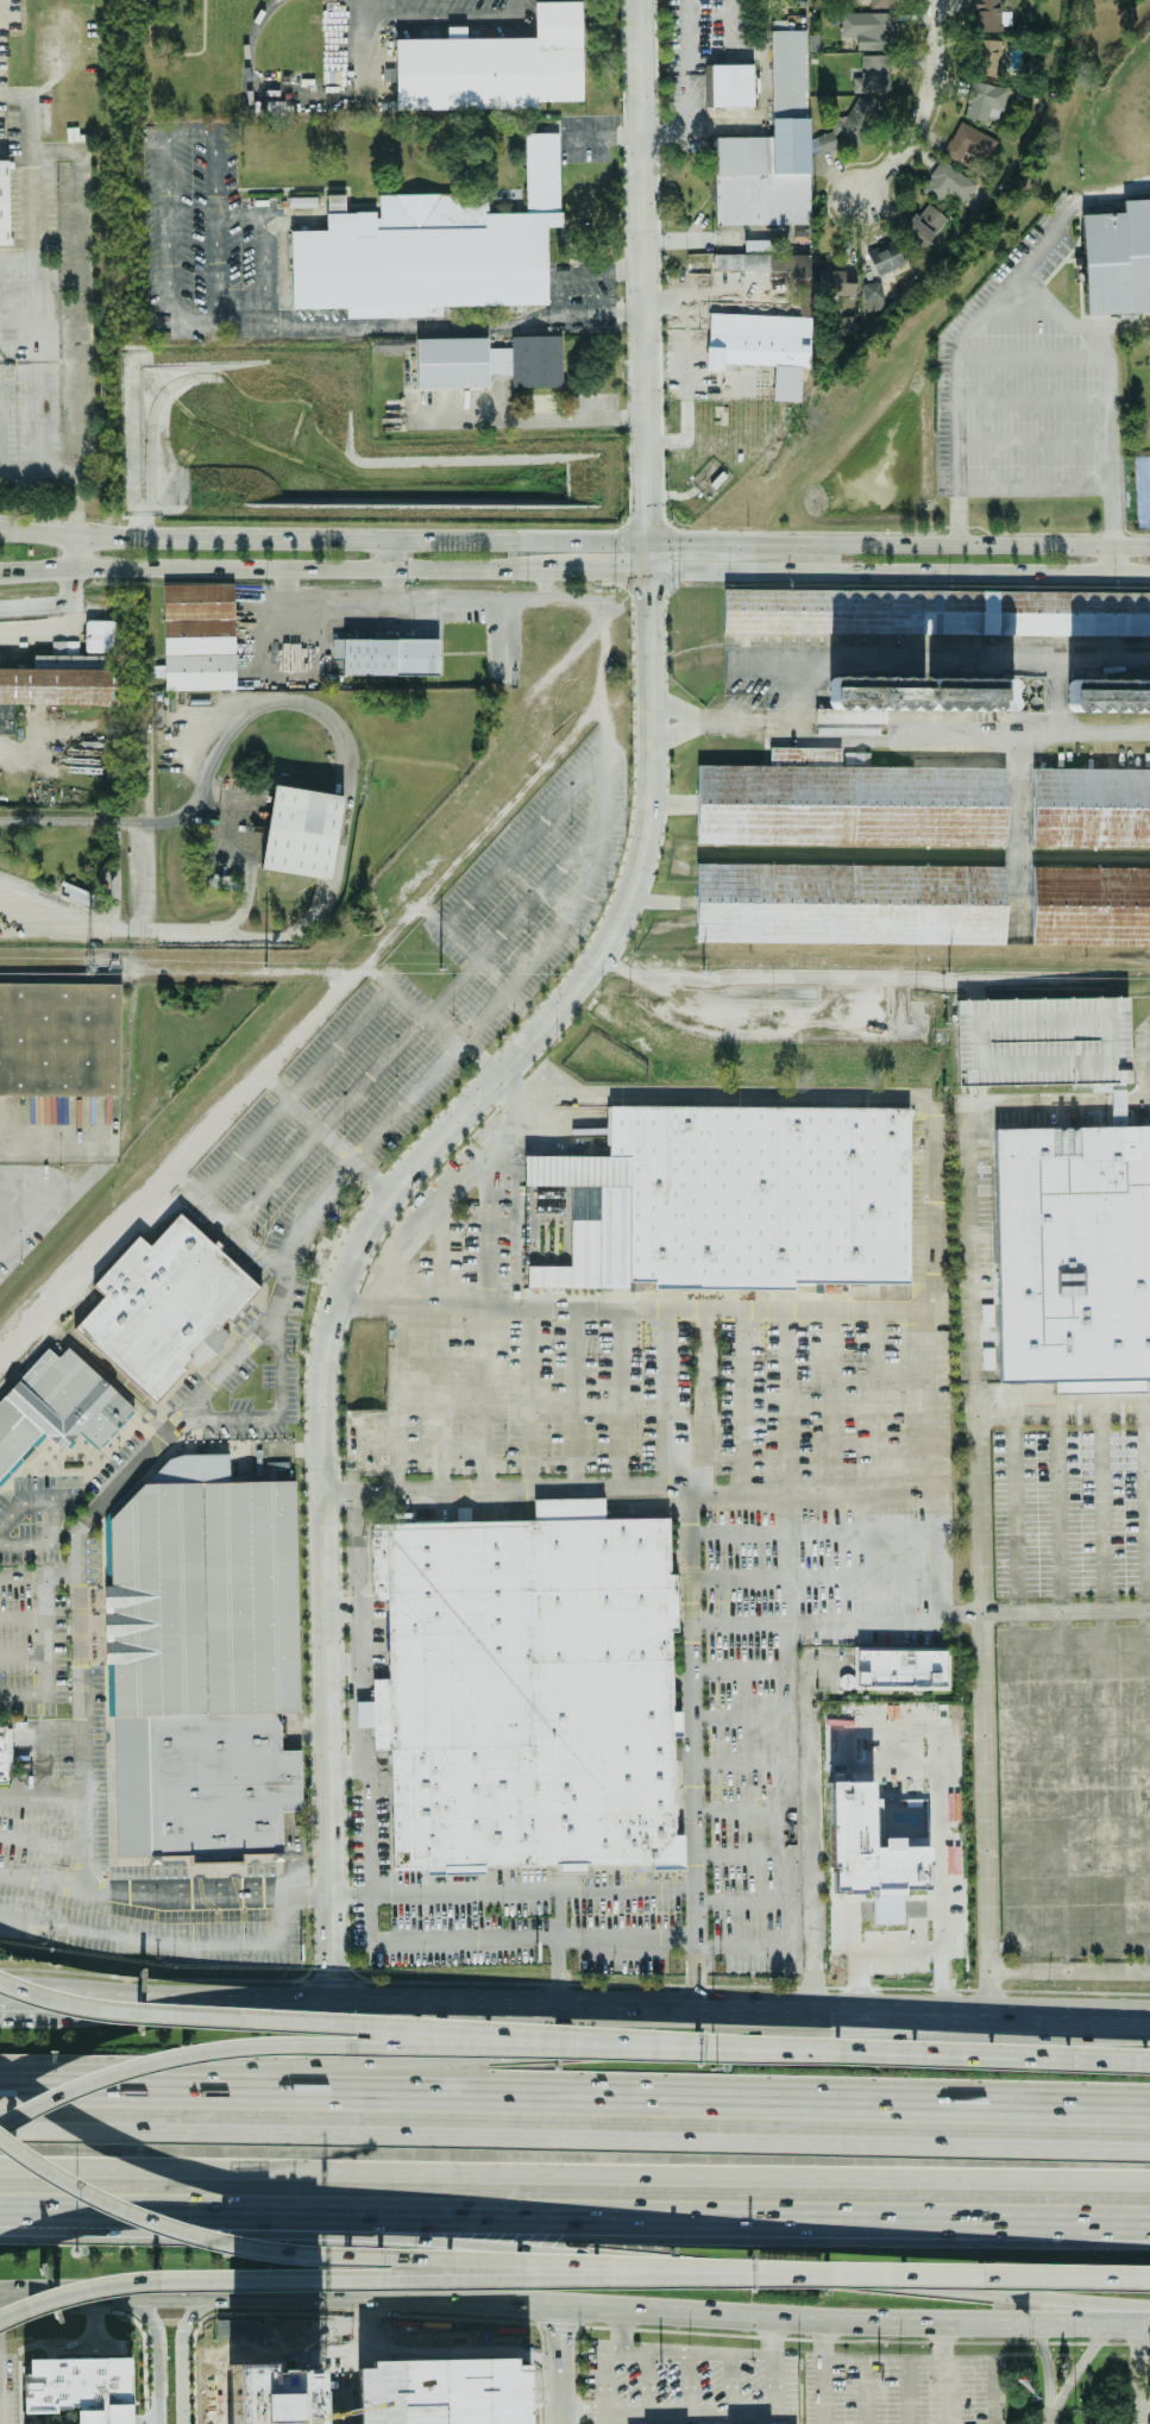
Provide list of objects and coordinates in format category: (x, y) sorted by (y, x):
building: (884, 2)
building: (987, 15)
road: (436, 26)
building: (868, 30)
building: (987, 57)
building: (488, 69)
building: (873, 74)
building: (731, 84)
road: (282, 90)
building: (985, 101)
road: (925, 111)
building: (853, 121)
road: (683, 126)
building: (969, 144)
road: (1057, 149)
building: (765, 151)
building: (947, 183)
building: (4, 202)
road: (642, 207)
road: (233, 216)
building: (925, 224)
building: (765, 245)
building: (428, 251)
building: (885, 257)
building: (763, 263)
building: (1118, 263)
road: (17, 269)
road: (580, 274)
road: (80, 288)
road: (34, 289)
building: (873, 296)
road: (239, 322)
road: (1079, 322)
road: (684, 332)
building: (750, 338)
building: (383, 344)
road: (957, 347)
building: (479, 364)
road: (1010, 413)
road: (1044, 416)
road: (529, 417)
road: (684, 421)
road: (1106, 451)
road: (20, 472)
road: (645, 478)
park: (1143, 496)
road: (76, 504)
traffic signals: (647, 520)
road: (323, 541)
traffic signals: (678, 542)
road: (692, 542)
road: (943, 545)
road: (73, 553)
road: (388, 554)
road: (647, 557)
road: (278, 567)
road: (602, 571)
traffic signals: (618, 572)
road: (898, 572)
traffic signals: (648, 592)
road: (385, 602)
road: (52, 603)
building: (934, 611)
road: (647, 614)
building: (100, 636)
building: (197, 638)
building: (387, 657)
road: (941, 657)
building: (62, 679)
road: (1056, 692)
building: (1108, 695)
building: (919, 696)
road: (519, 701)
road: (605, 726)
road: (898, 726)
road: (339, 785)
building: (848, 803)
building: (1091, 808)
building: (303, 834)
road: (523, 842)
road: (247, 848)
building: (849, 903)
building: (1091, 905)
road: (388, 935)
road: (480, 965)
power tower: (89, 967)
power tower: (265, 967)
power tower: (439, 968)
power tower: (703, 969)
power tower: (949, 972)
road: (514, 976)
road: (406, 1005)
parking lot: (413, 1022)
road: (414, 1026)
building: (59, 1040)
building: (1043, 1042)
road: (1149, 1057)
road: (290, 1092)
road: (709, 1094)
road: (304, 1119)
road: (50, 1132)
road: (439, 1199)
building: (739, 1204)
road: (38, 1208)
road: (225, 1225)
road: (484, 1227)
building: (1072, 1256)
road: (84, 1264)
road: (337, 1279)
building: (163, 1305)
road: (761, 1310)
road: (84, 1313)
road: (439, 1344)
road: (206, 1348)
road: (238, 1354)
road: (82, 1356)
road: (112, 1369)
parking lot: (620, 1373)
road: (391, 1395)
road: (484, 1398)
road: (526, 1398)
road: (573, 1398)
road: (616, 1398)
road: (662, 1398)
building: (45, 1401)
road: (784, 1403)
road: (830, 1403)
road: (873, 1403)
road: (704, 1405)
road: (739, 1405)
road: (163, 1409)
building: (98, 1414)
road: (146, 1415)
road: (276, 1417)
road: (1067, 1417)
road: (177, 1423)
building: (7, 1455)
road: (348, 1456)
road: (80, 1472)
road: (716, 1500)
road: (1146, 1512)
road: (1056, 1513)
road: (1100, 1513)
road: (1018, 1514)
road: (50, 1516)
road: (805, 1531)
road: (800, 1562)
road: (807, 1582)
road: (931, 1583)
road: (308, 1588)
road: (1069, 1609)
road: (19, 1616)
road: (813, 1625)
road: (363, 1632)
road: (39, 1633)
road: (19, 1653)
building: (203, 1666)
building: (897, 1670)
road: (735, 1672)
parking lot: (777, 1685)
road: (19, 1691)
building: (540, 1697)
road: (988, 1715)
road: (735, 1717)
road: (306, 1729)
road: (310, 1731)
building: (2, 1756)
road: (686, 1757)
road: (737, 1762)
road: (30, 1765)
road: (106, 1779)
road: (941, 1789)
building: (875, 1796)
road: (40, 1800)
traffic signals: (73, 1801)
road: (739, 1809)
road: (313, 1816)
road: (82, 1821)
parking lot: (102, 1827)
road: (805, 1827)
road: (345, 1834)
road: (40, 1844)
building: (871, 1853)
road: (290, 1857)
road: (740, 1857)
traffic signals: (83, 1866)
road: (42, 1879)
traffic signals: (69, 1883)
traffic signals: (100, 1885)
road: (448, 1889)
road: (314, 1896)
road: (239, 1897)
road: (346, 1897)
road: (350, 1897)
road: (202, 1901)
road: (741, 1903)
parking lot: (504, 1908)
road: (371, 1916)
road: (530, 1933)
road: (315, 1935)
road: (162, 1942)
road: (905, 1946)
road: (555, 1947)
road: (740, 1949)
road: (347, 1952)
road: (285, 1980)
road: (303, 1980)
road: (332, 1982)
road: (401, 1982)
road: (23, 2002)
road: (597, 2009)
road: (348, 2024)
road: (343, 2046)
road: (535, 2055)
road: (925, 2055)
road: (574, 2096)
road: (574, 2137)
road: (574, 2174)
road: (98, 2215)
road: (673, 2217)
road: (392, 2257)
road: (673, 2263)
road: (945, 2275)
road: (1116, 2275)
road: (1116, 2277)
road: (402, 2279)
road: (574, 2305)
building: (238, 2328)
building: (285, 2331)
road: (161, 2355)
road: (697, 2355)
road: (182, 2356)
road: (604, 2359)
road: (884, 2361)
road: (558, 2363)
road: (1047, 2367)
road: (1144, 2367)
road: (954, 2368)
road: (1076, 2368)
road: (822, 2372)
road: (1138, 2373)
road: (992, 2374)
parking lot: (796, 2379)
road: (2, 2392)
road: (909, 2392)
building: (75, 2407)
road: (1144, 2407)
road: (735, 2410)
road: (582, 2411)
road: (1048, 2419)

